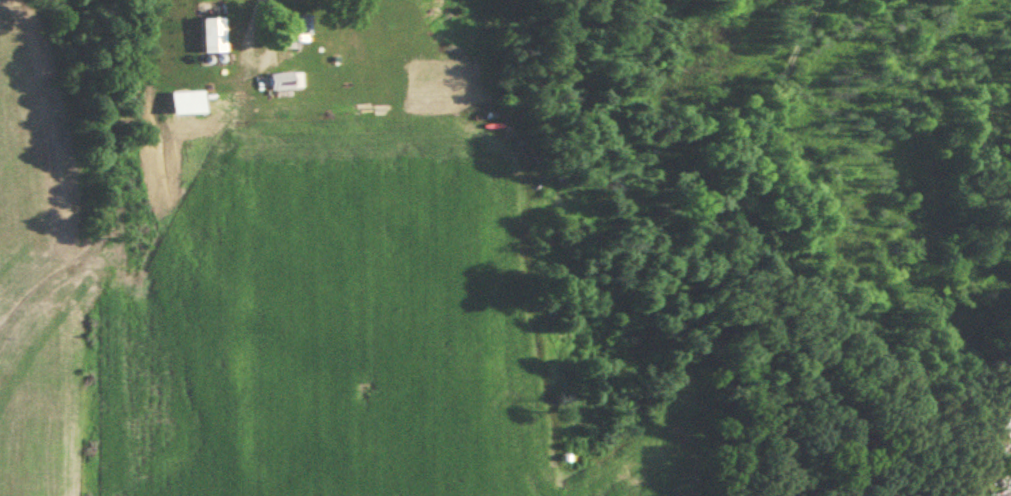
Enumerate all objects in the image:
building: (294, 29)
building: (281, 81)
road: (764, 266)
building: (1009, 417)

